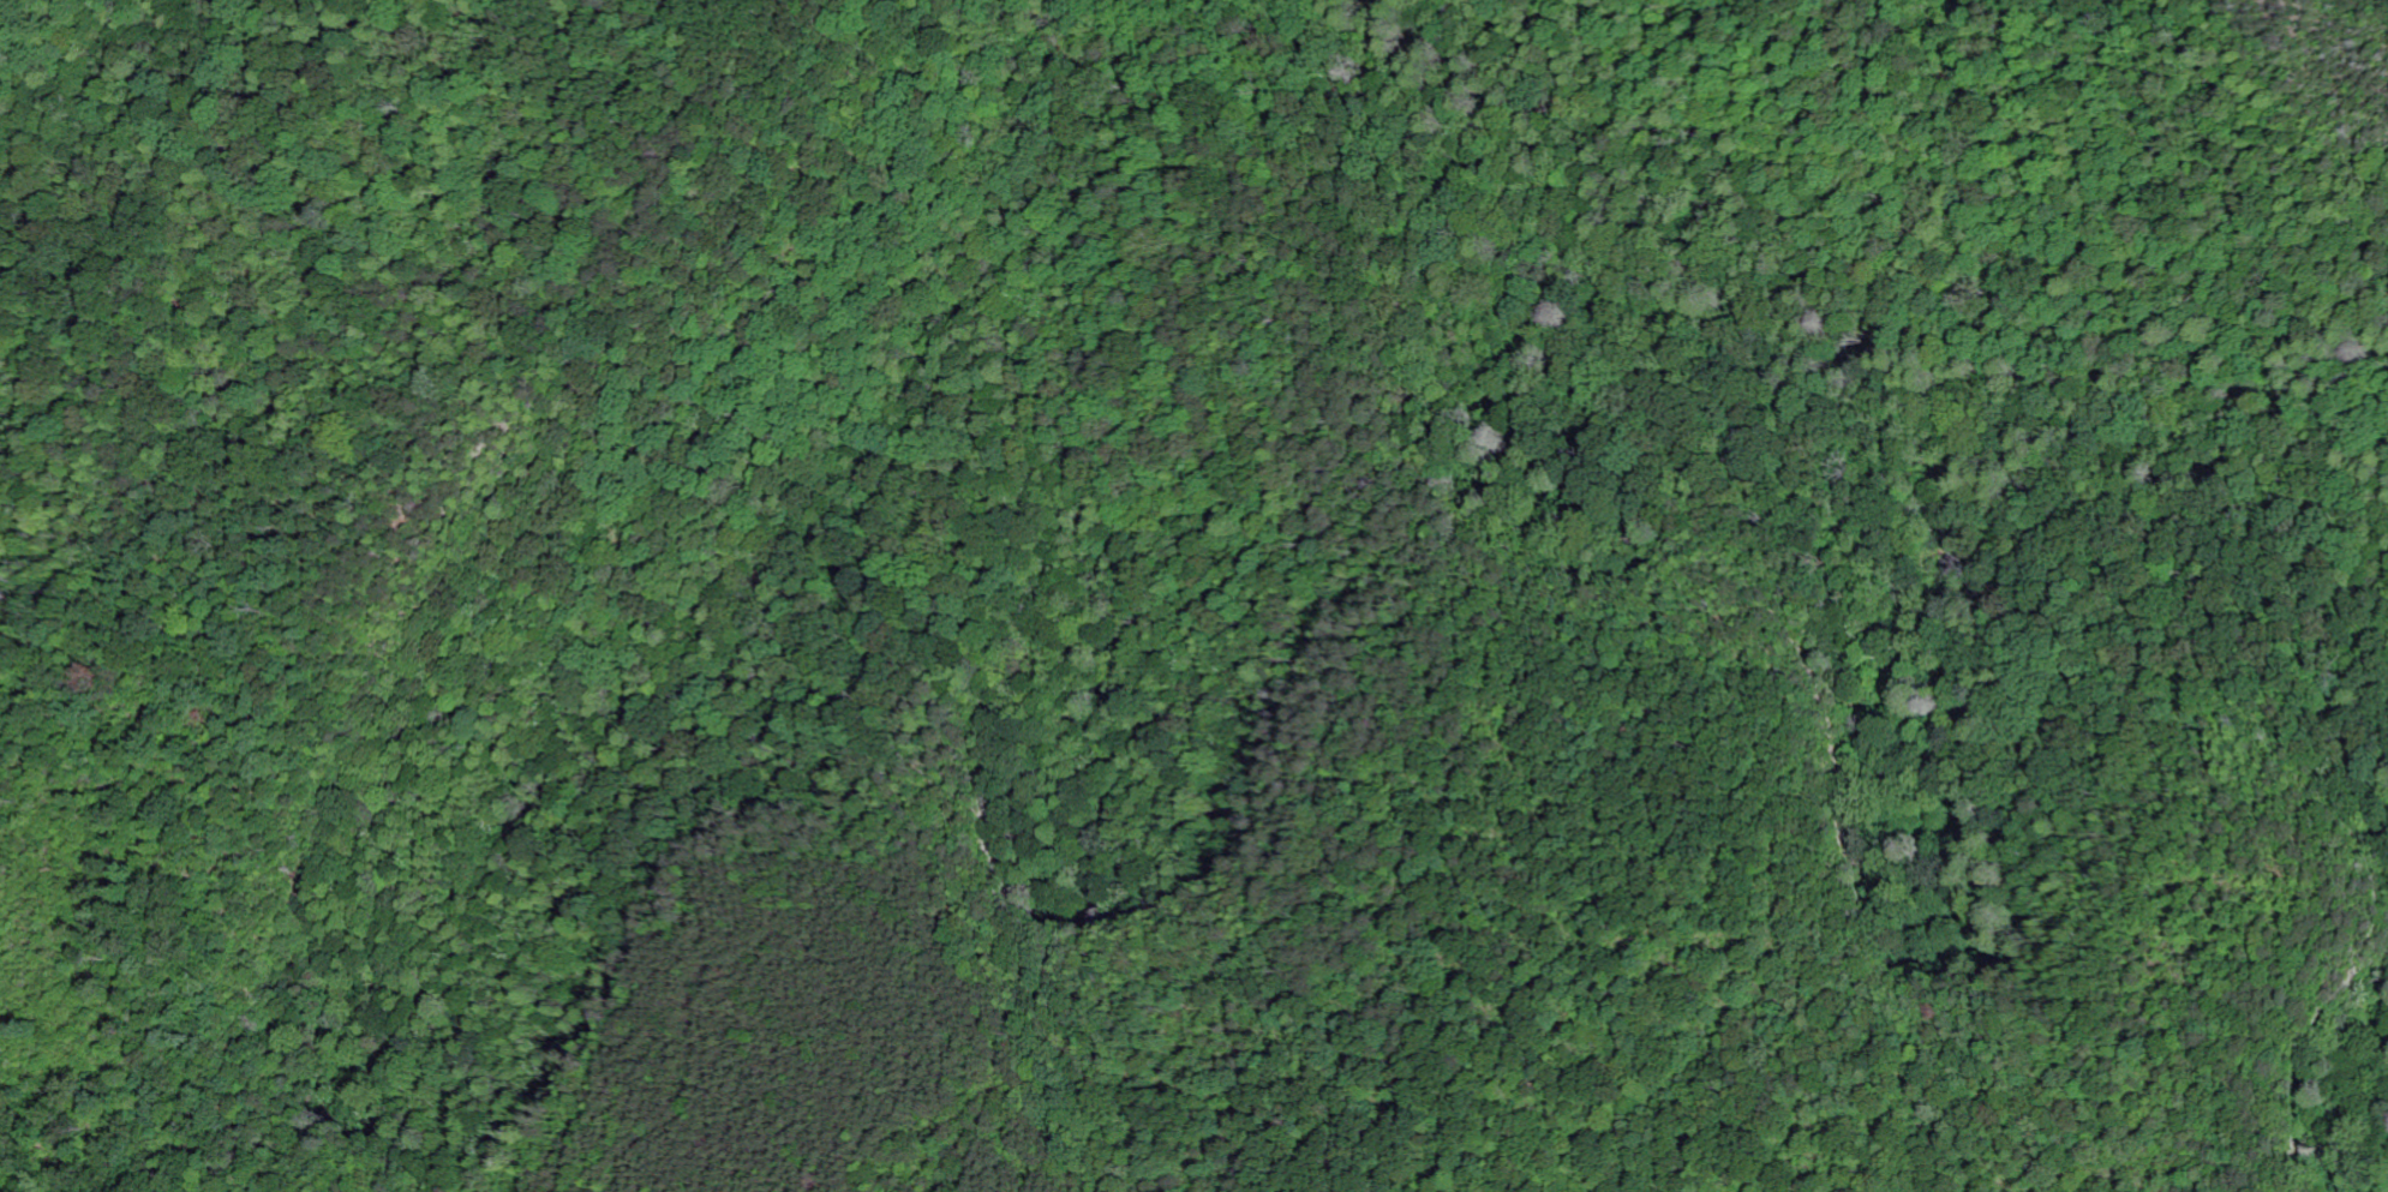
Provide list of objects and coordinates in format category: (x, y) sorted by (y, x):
river: (1711, 211)
park: (1292, 507)

